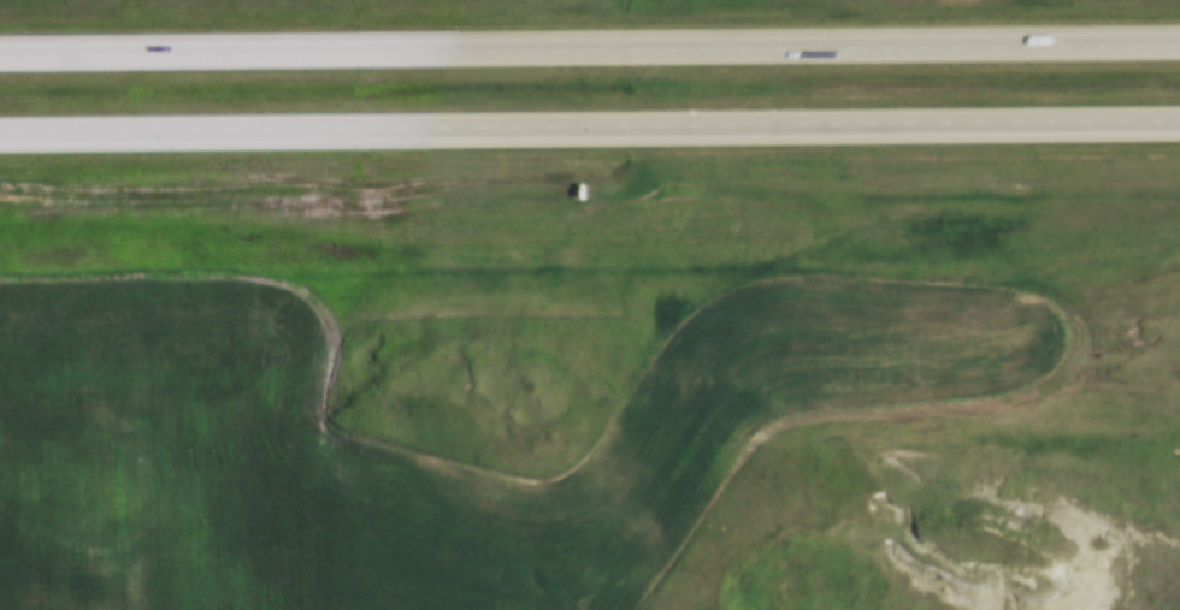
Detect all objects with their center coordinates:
road: (589, 41)
road: (589, 128)

